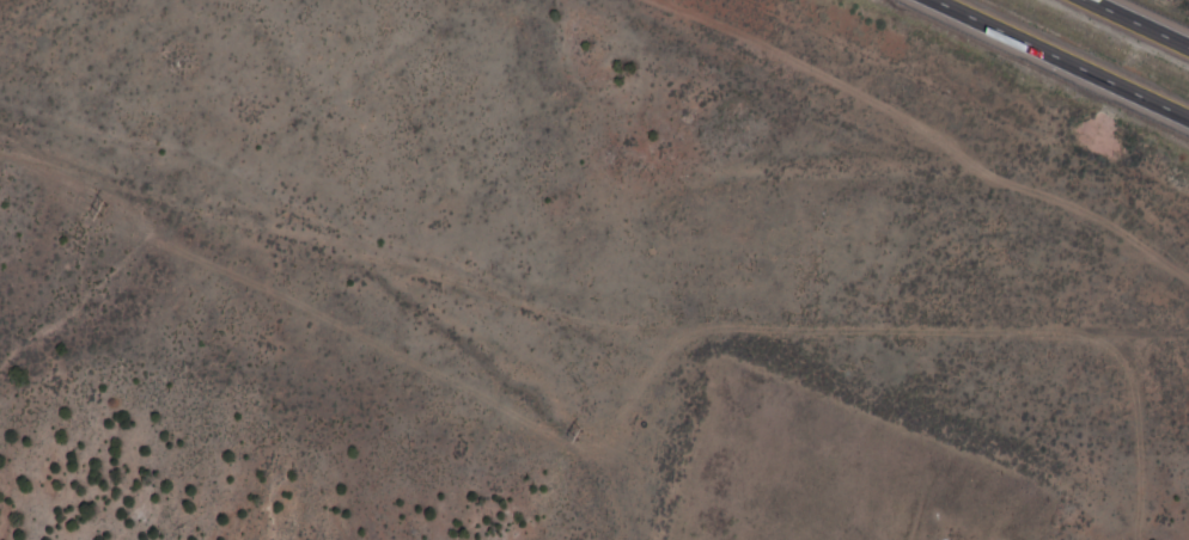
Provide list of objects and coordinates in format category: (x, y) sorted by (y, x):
road: (1138, 23)
road: (1057, 60)
road: (366, 302)

